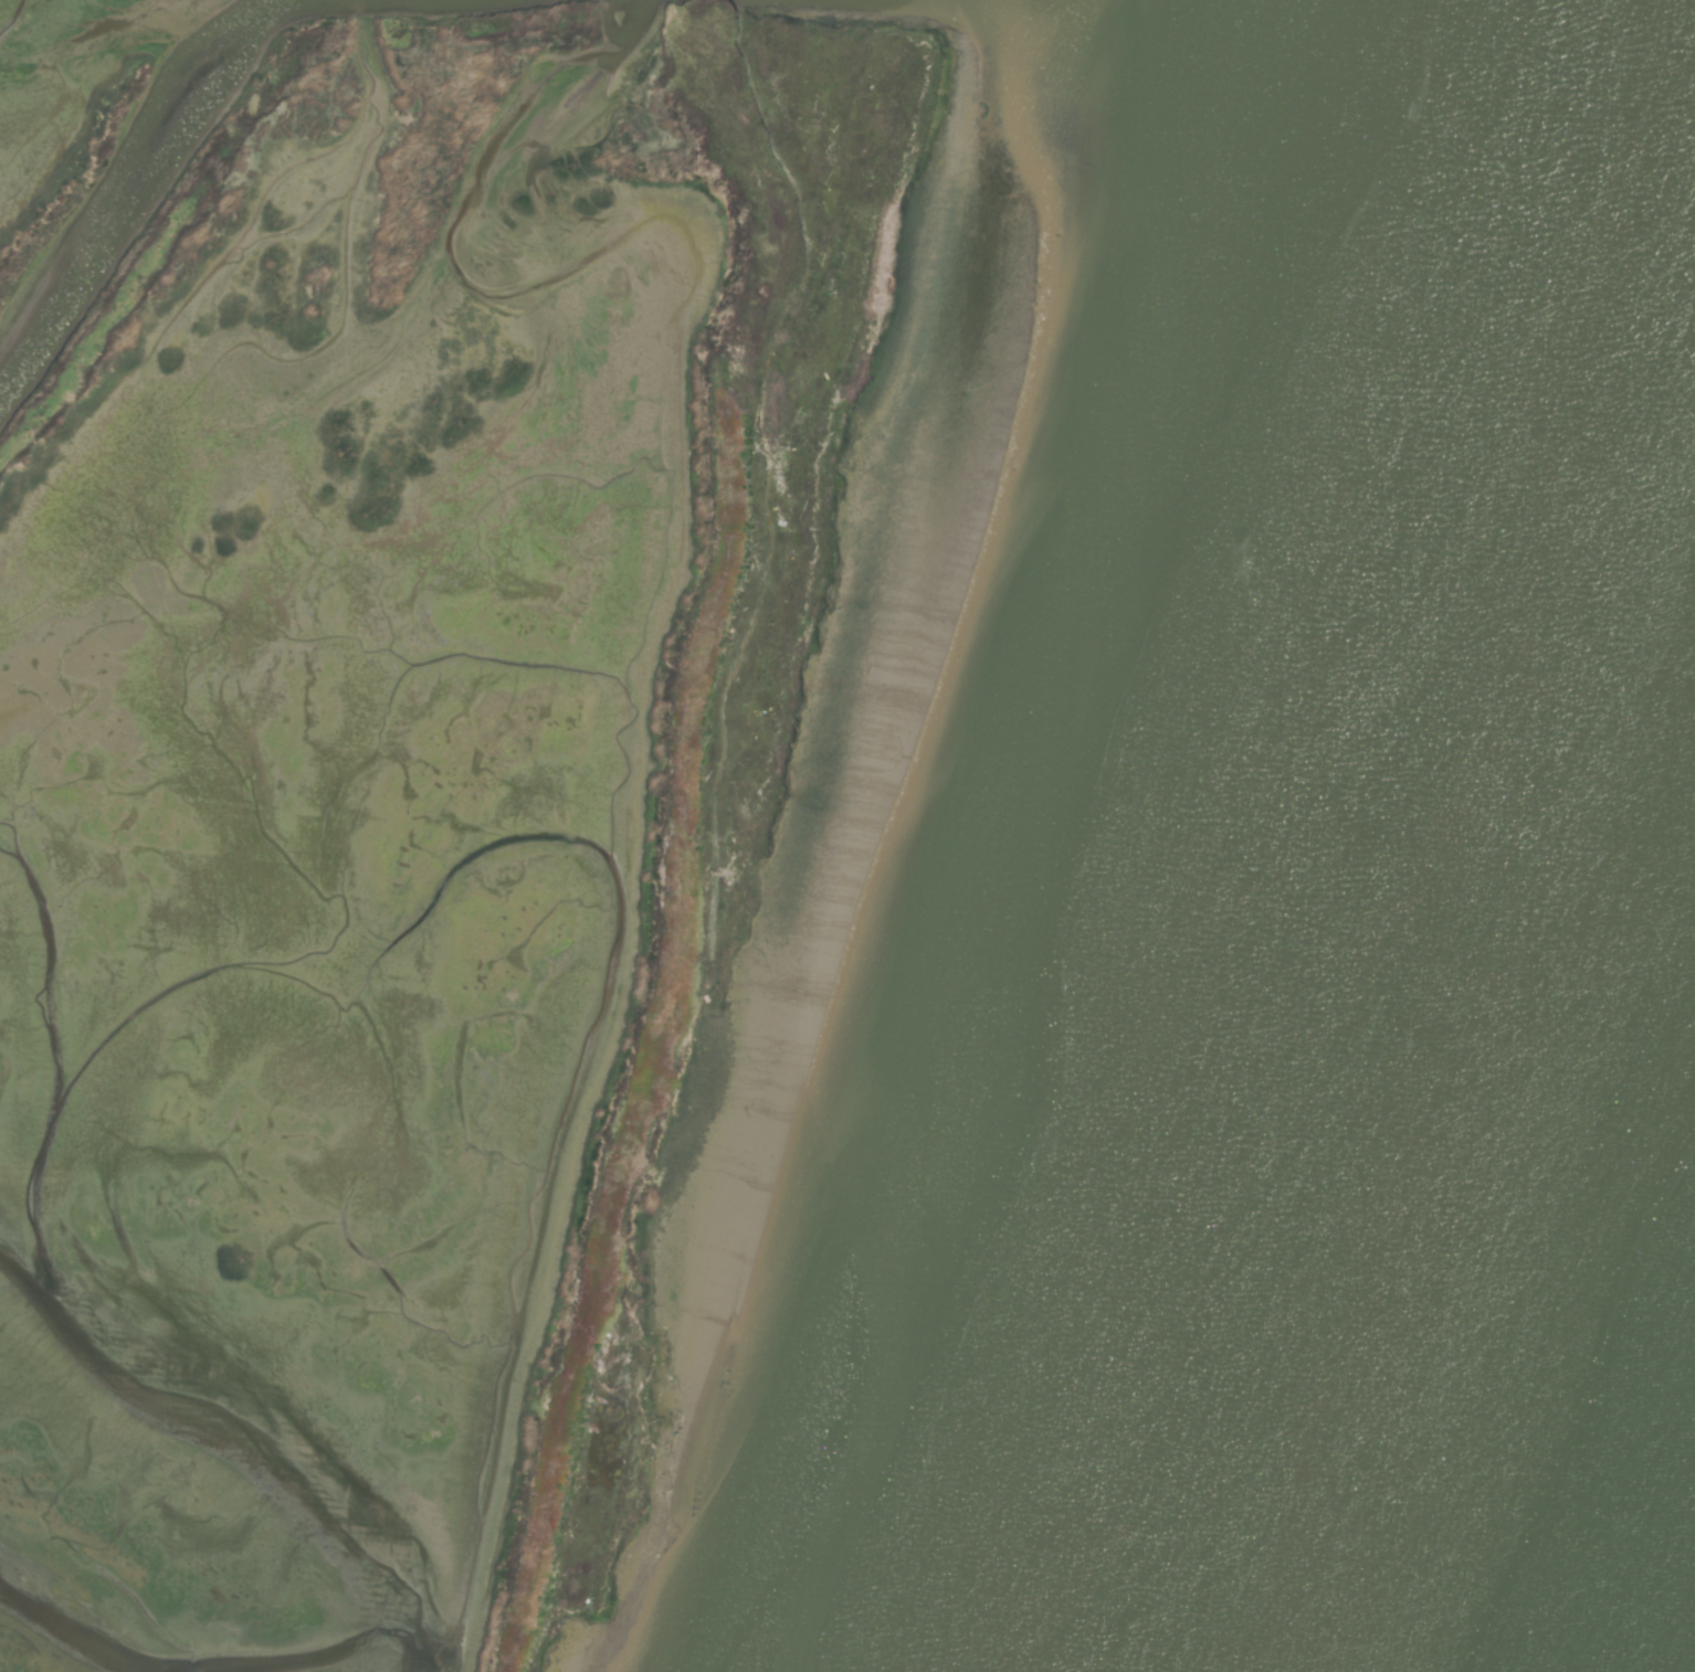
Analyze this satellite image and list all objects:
river: (1423, 836)

